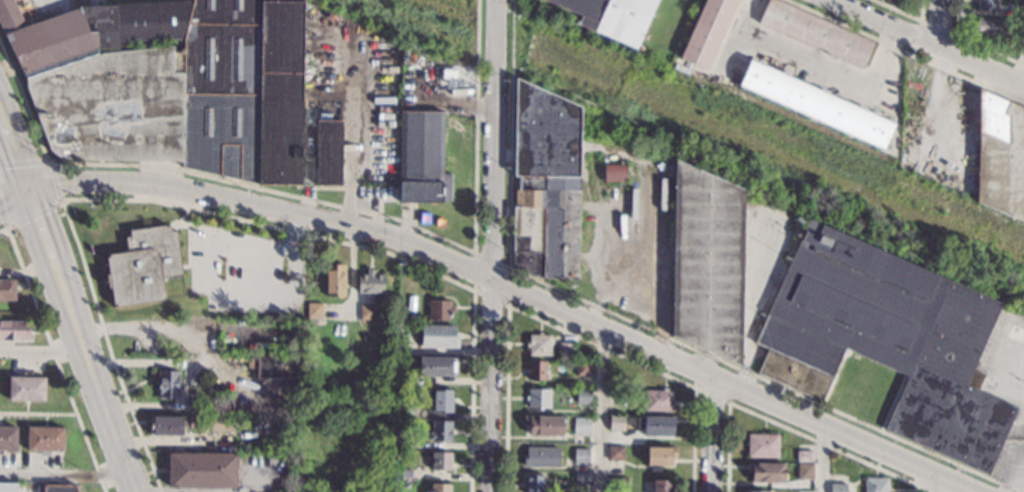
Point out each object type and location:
building: (985, 5)
building: (1022, 8)
building: (611, 17)
road: (939, 23)
building: (986, 27)
building: (706, 31)
building: (815, 33)
road: (928, 41)
building: (1022, 47)
building: (409, 48)
building: (447, 77)
building: (170, 84)
building: (816, 104)
building: (328, 135)
road: (13, 145)
road: (350, 145)
building: (1000, 156)
building: (421, 158)
building: (614, 172)
road: (13, 182)
traffic signals: (27, 182)
building: (546, 183)
road: (15, 196)
road: (60, 198)
road: (492, 245)
building: (703, 262)
building: (142, 264)
building: (334, 280)
building: (370, 283)
road: (508, 285)
road: (228, 286)
building: (6, 290)
building: (314, 310)
building: (439, 310)
building: (368, 313)
building: (13, 330)
building: (292, 337)
building: (438, 337)
road: (73, 338)
building: (887, 340)
building: (539, 344)
road: (197, 345)
road: (108, 348)
building: (566, 350)
road: (38, 351)
road: (54, 360)
building: (279, 366)
building: (436, 366)
building: (583, 369)
building: (537, 370)
building: (402, 378)
building: (614, 383)
building: (168, 384)
building: (26, 387)
building: (584, 396)
building: (538, 398)
building: (440, 400)
building: (658, 400)
building: (192, 406)
road: (599, 409)
building: (404, 411)
building: (616, 422)
building: (216, 423)
building: (542, 425)
building: (656, 425)
building: (166, 426)
building: (581, 426)
building: (440, 430)
road: (701, 433)
building: (7, 438)
building: (44, 440)
building: (402, 440)
building: (762, 445)
building: (615, 453)
building: (659, 455)
building: (804, 455)
building: (541, 457)
building: (580, 457)
road: (821, 460)
building: (440, 461)
building: (201, 469)
building: (804, 472)
building: (767, 473)
building: (402, 475)
road: (59, 476)
building: (582, 478)
building: (533, 483)
building: (618, 484)
road: (925, 484)
road: (1021, 484)
building: (875, 485)
building: (662, 486)
building: (7, 487)
building: (439, 487)
building: (59, 488)
building: (837, 490)
road: (215, 491)
building: (756, 491)
building: (802, 491)

